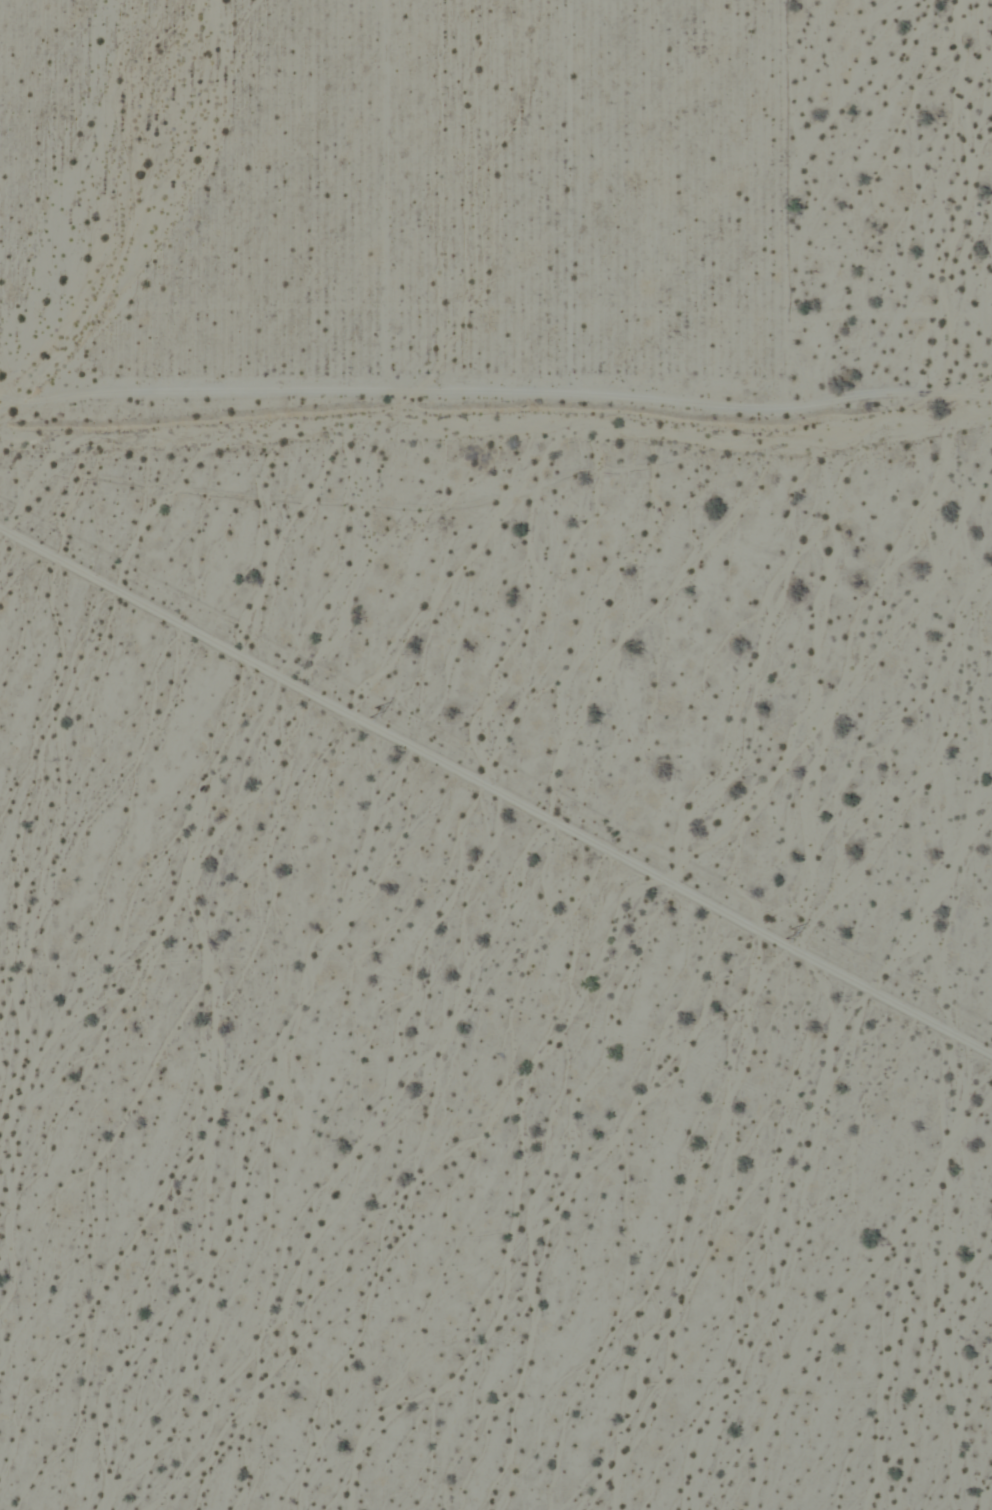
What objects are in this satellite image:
crop: (391, 187)
power tower: (372, 710)
power tower: (787, 930)

